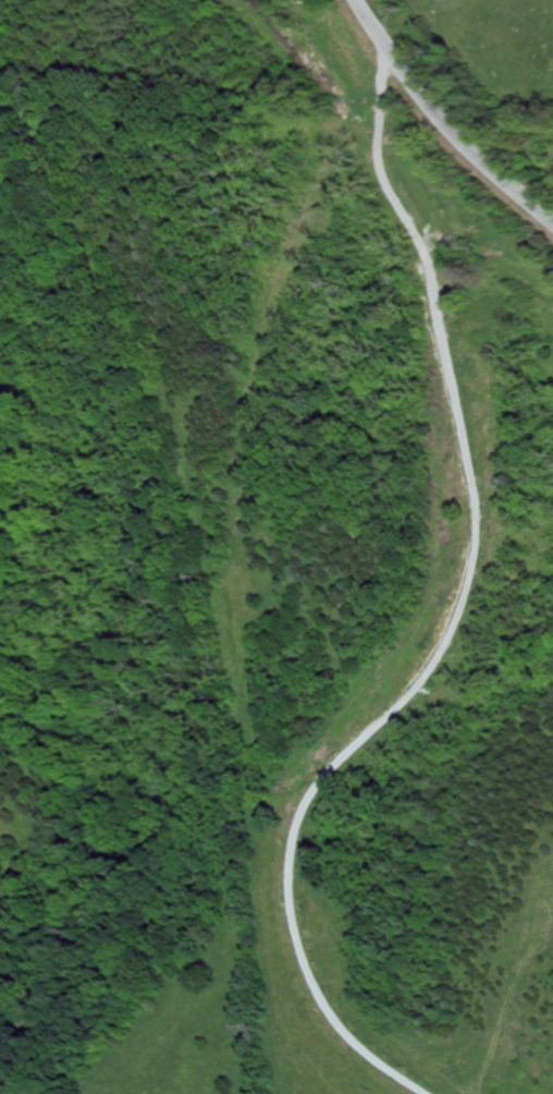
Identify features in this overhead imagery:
road: (446, 123)
road: (462, 618)

